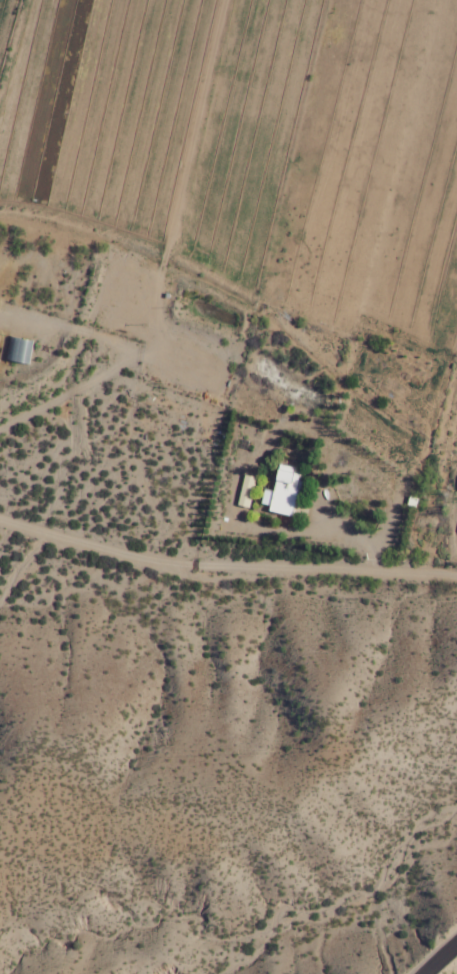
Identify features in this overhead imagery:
building: (246, 490)
building: (284, 491)
road: (225, 568)
road: (440, 959)

